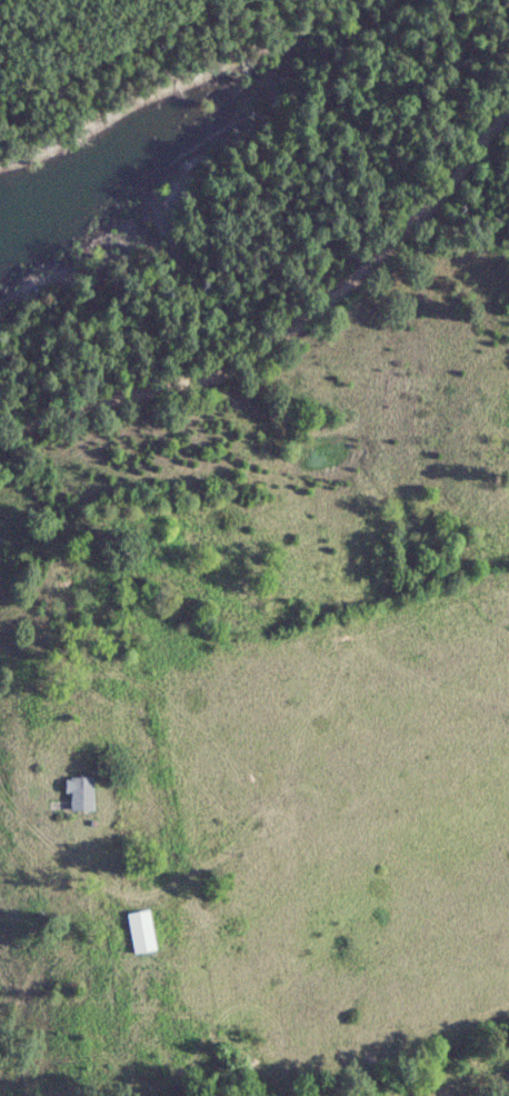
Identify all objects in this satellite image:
road: (290, 325)
building: (74, 791)
building: (133, 929)

